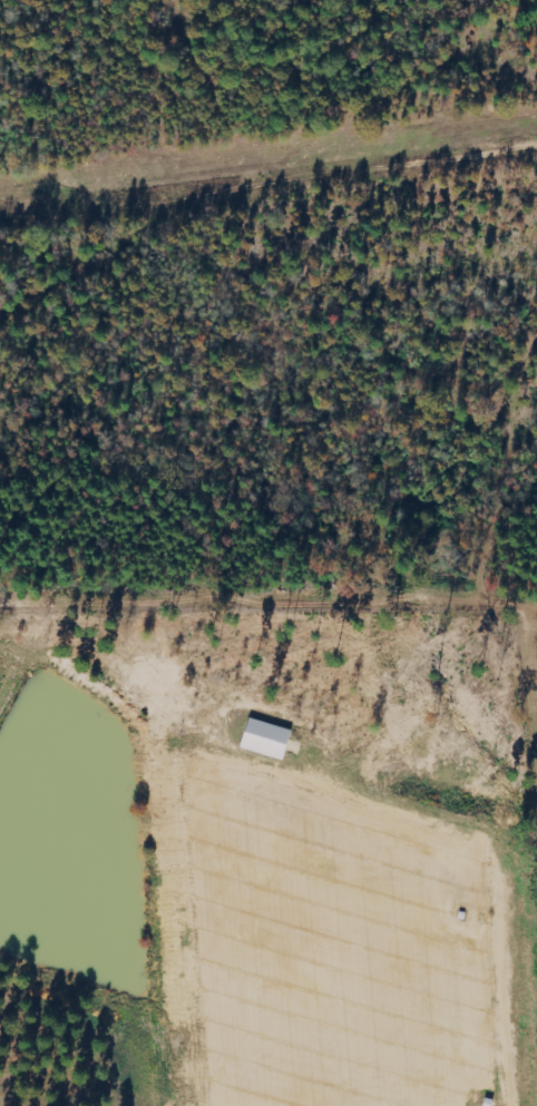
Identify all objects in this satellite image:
building: (271, 738)

